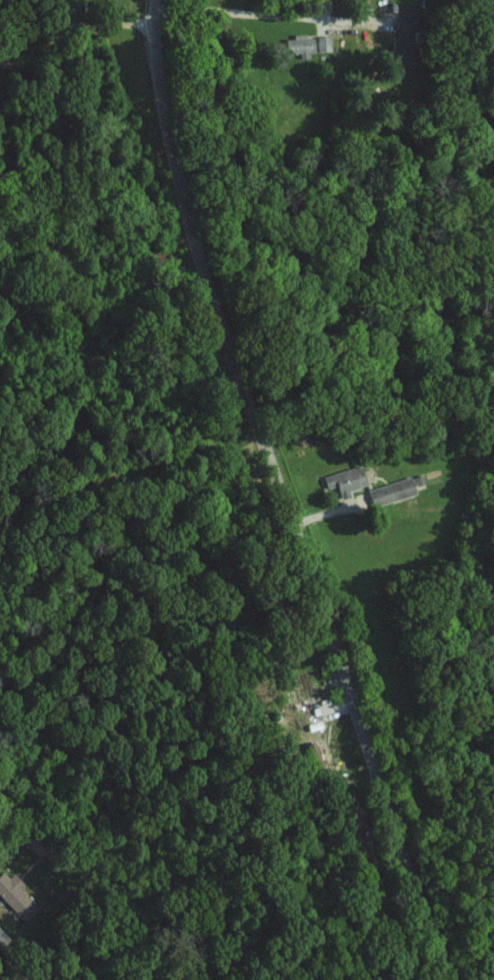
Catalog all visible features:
road: (247, 16)
road: (76, 31)
building: (322, 43)
building: (297, 46)
building: (343, 480)
building: (388, 490)
road: (276, 496)
building: (21, 894)
road: (103, 928)

